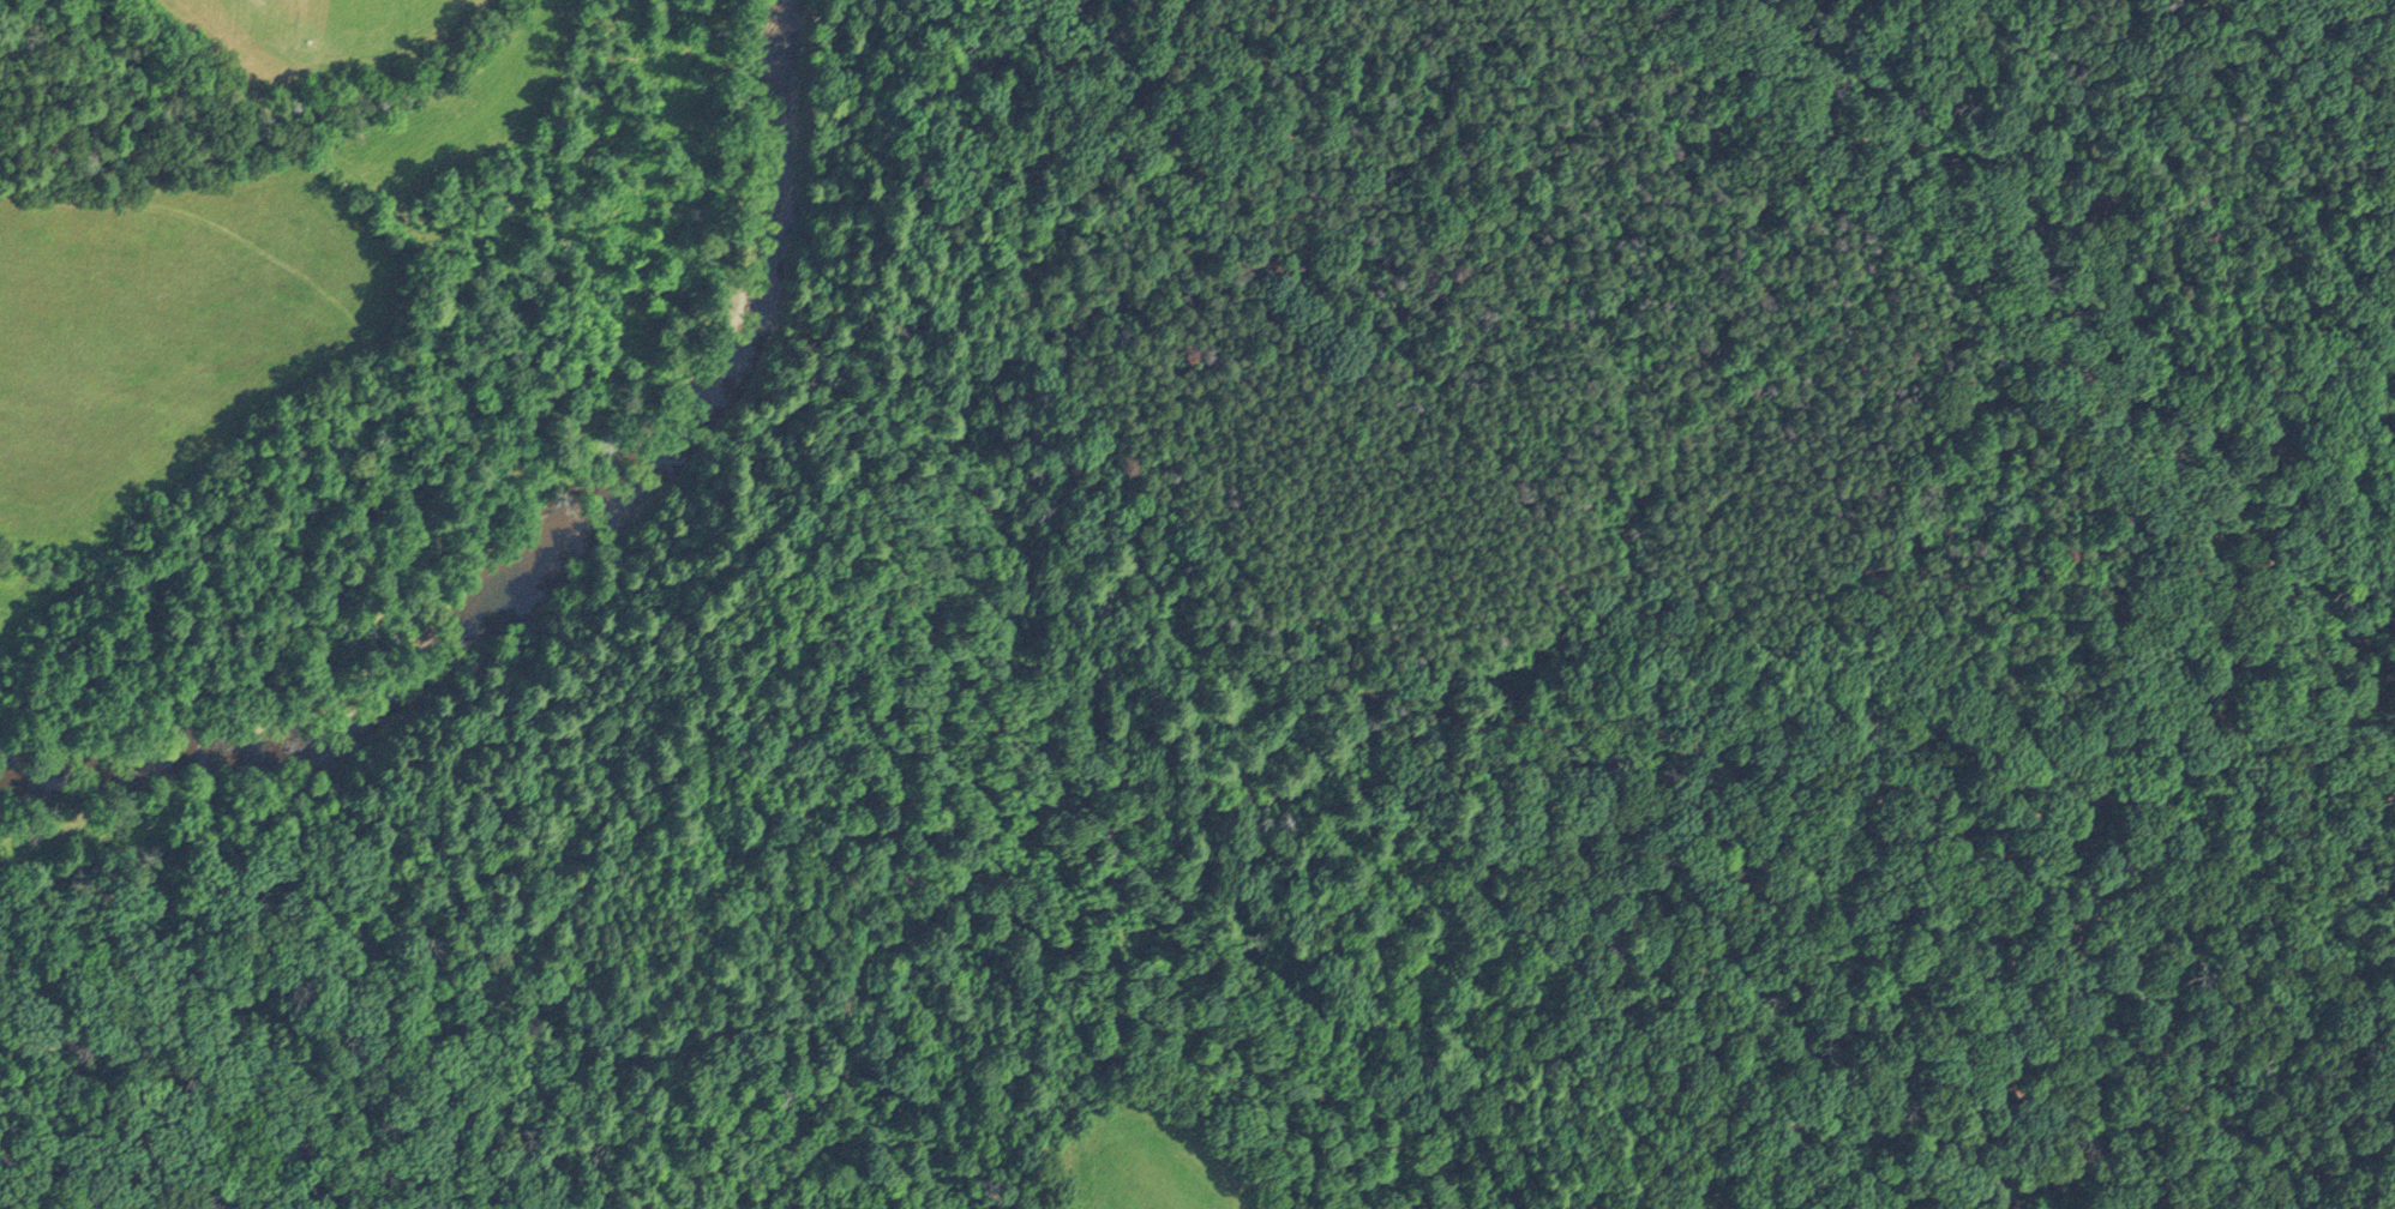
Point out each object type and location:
river: (545, 545)

